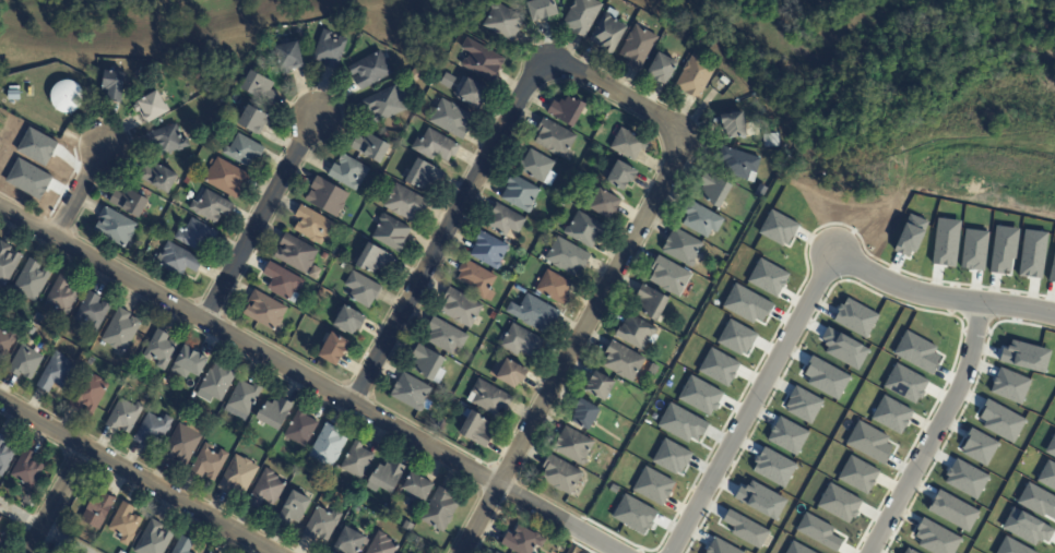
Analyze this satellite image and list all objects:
building: (542, 9)
building: (582, 15)
building: (503, 21)
building: (664, 24)
building: (608, 33)
building: (690, 44)
building: (638, 47)
building: (330, 49)
building: (288, 56)
building: (482, 59)
building: (662, 68)
building: (371, 69)
building: (696, 75)
building: (723, 80)
building: (448, 81)
building: (112, 84)
building: (258, 86)
building: (473, 92)
building: (13, 95)
building: (66, 96)
storage tank: (66, 96)
building: (384, 104)
building: (151, 108)
building: (567, 110)
building: (252, 118)
building: (451, 119)
building: (735, 124)
building: (183, 131)
building: (167, 139)
building: (555, 139)
building: (629, 143)
building: (436, 145)
building: (36, 146)
building: (371, 147)
building: (244, 151)
road: (488, 163)
building: (739, 165)
building: (538, 167)
building: (348, 172)
building: (621, 175)
building: (424, 176)
building: (581, 176)
building: (159, 177)
building: (226, 178)
building: (28, 179)
building: (187, 181)
building: (714, 188)
building: (520, 193)
road: (78, 194)
building: (327, 196)
building: (130, 202)
building: (605, 202)
building: (405, 203)
building: (211, 206)
road: (261, 219)
building: (503, 219)
building: (701, 219)
building: (315, 225)
building: (115, 227)
building: (777, 228)
building: (584, 229)
building: (391, 232)
building: (194, 235)
building: (910, 236)
building: (945, 242)
building: (683, 248)
building: (1003, 249)
building: (489, 250)
building: (973, 250)
building: (335, 252)
building: (296, 253)
building: (1031, 254)
building: (324, 256)
building: (567, 256)
building: (374, 259)
building: (179, 260)
building: (7, 263)
building: (343, 266)
building: (1052, 269)
building: (315, 273)
building: (669, 276)
building: (767, 277)
building: (477, 279)
building: (32, 280)
building: (283, 282)
building: (316, 288)
building: (554, 288)
building: (363, 289)
building: (518, 291)
building: (62, 296)
road: (939, 297)
building: (651, 302)
building: (746, 303)
building: (461, 308)
building: (92, 310)
building: (264, 311)
building: (534, 313)
building: (854, 317)
building: (348, 320)
building: (31, 330)
building: (121, 330)
building: (637, 333)
building: (446, 336)
building: (735, 338)
building: (522, 340)
building: (7, 341)
road: (573, 346)
building: (333, 348)
building: (843, 348)
building: (161, 349)
building: (916, 351)
building: (1024, 356)
building: (82, 357)
building: (190, 360)
building: (91, 361)
building: (624, 361)
building: (427, 362)
building: (25, 363)
building: (718, 366)
building: (653, 369)
building: (56, 372)
building: (511, 373)
building: (825, 376)
road: (308, 382)
building: (215, 383)
building: (905, 383)
building: (1009, 385)
building: (601, 386)
building: (411, 393)
building: (88, 394)
building: (700, 395)
building: (245, 398)
building: (490, 398)
building: (448, 399)
road: (751, 402)
building: (803, 404)
building: (274, 413)
building: (585, 413)
building: (890, 414)
building: (125, 416)
building: (1000, 421)
building: (681, 423)
building: (440, 424)
building: (153, 429)
building: (301, 429)
building: (476, 430)
road: (935, 431)
building: (259, 432)
building: (786, 435)
building: (868, 442)
building: (182, 445)
building: (573, 445)
building: (328, 446)
building: (977, 446)
building: (1051, 446)
building: (4, 454)
building: (671, 456)
building: (357, 461)
building: (209, 462)
building: (773, 467)
building: (27, 470)
building: (857, 474)
building: (561, 476)
building: (1047, 476)
building: (238, 477)
building: (388, 477)
road: (137, 478)
building: (964, 478)
building: (330, 484)
building: (652, 485)
building: (417, 488)
building: (266, 490)
building: (760, 500)
road: (55, 501)
building: (1038, 501)
building: (838, 503)
building: (293, 508)
building: (96, 510)
building: (440, 510)
building: (952, 510)
building: (633, 514)
building: (0, 517)
building: (0, 519)
building: (125, 524)
building: (322, 525)
building: (408, 527)
building: (1026, 527)
building: (64, 528)
building: (745, 529)
road: (40, 530)
building: (818, 531)
building: (935, 538)
building: (154, 539)
building: (416, 540)
building: (348, 541)
building: (523, 541)
building: (1, 542)
building: (382, 544)
building: (183, 545)
building: (1011, 546)
building: (720, 548)
building: (796, 549)
building: (58, 550)
building: (3, 551)
building: (909, 551)
building: (209, 552)
building: (212, 552)
building: (398, 552)
building: (494, 552)
building: (497, 552)

